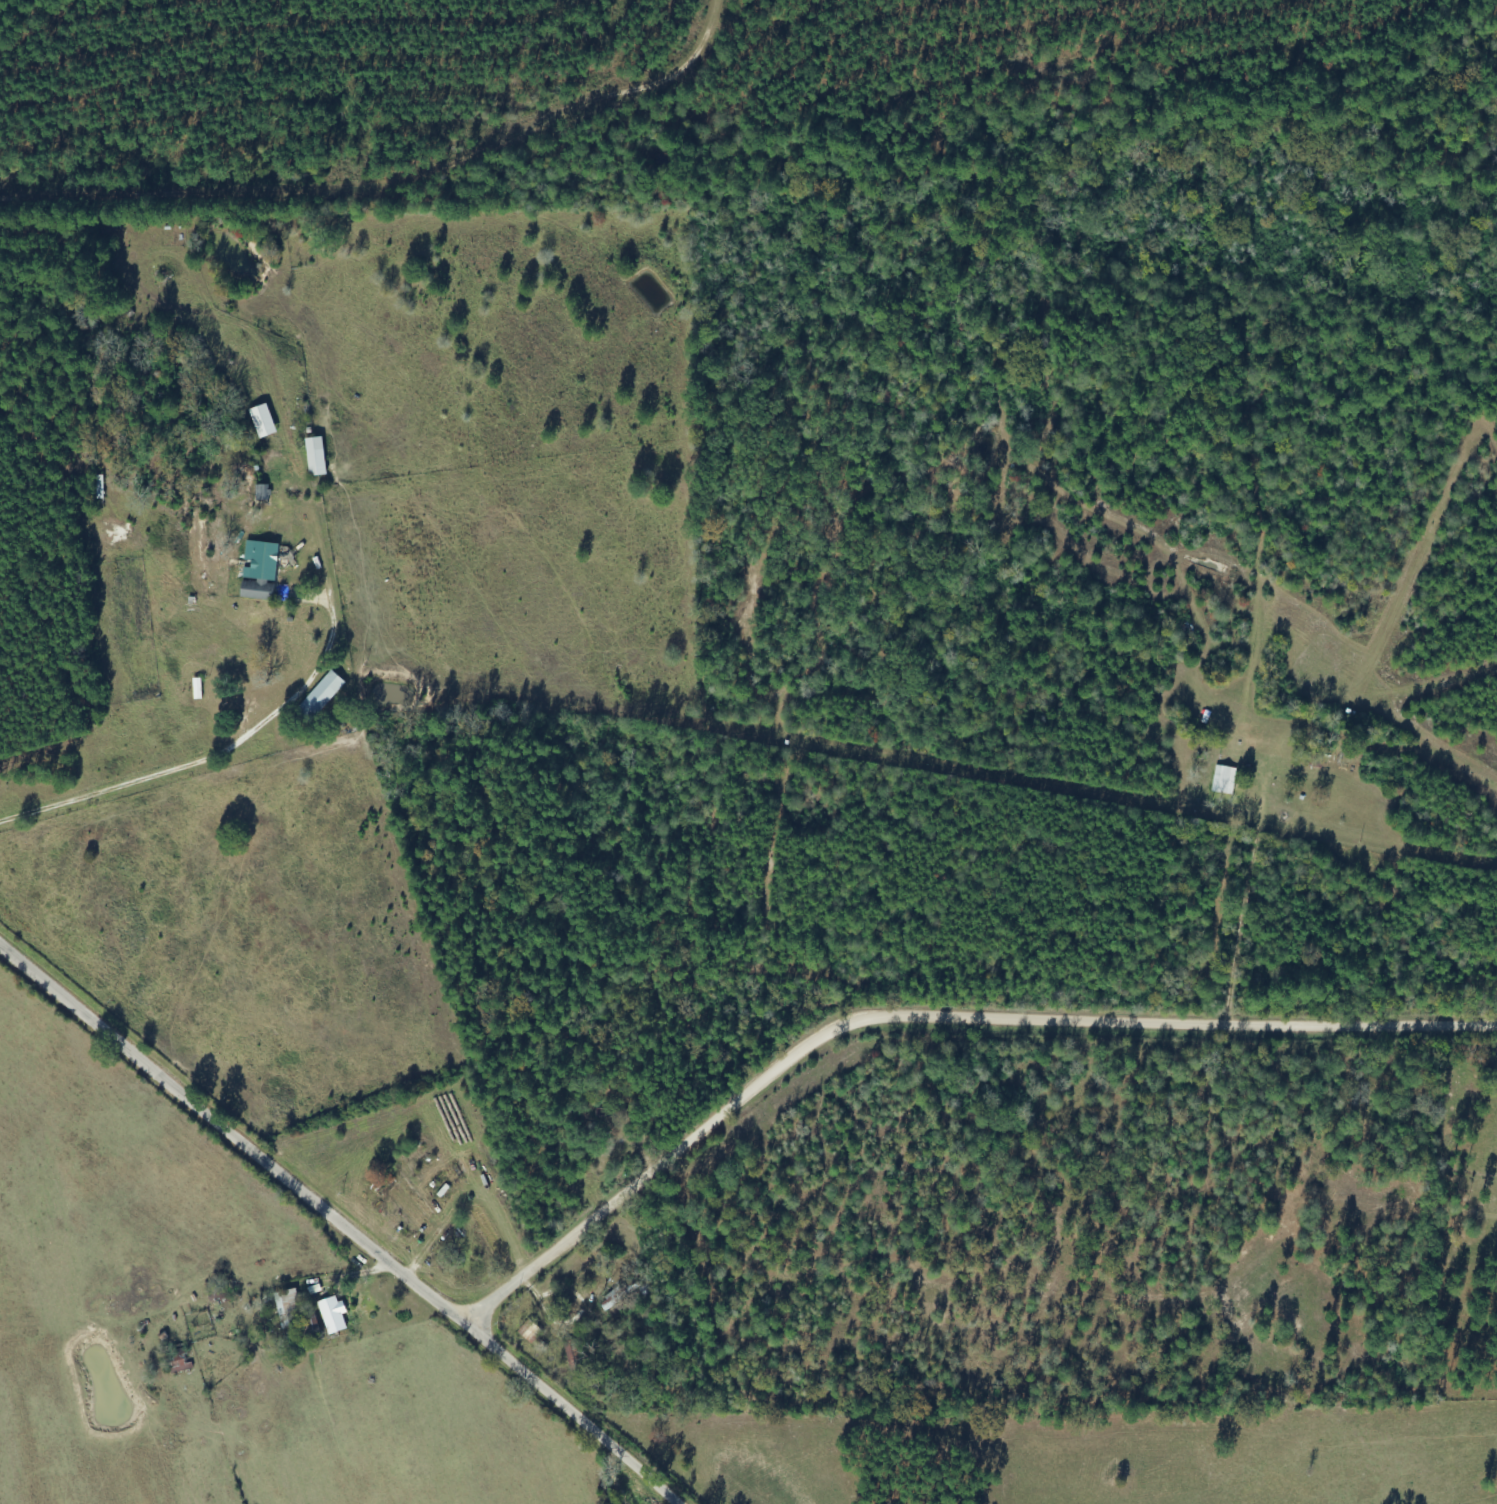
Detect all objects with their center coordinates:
road: (365, 191)
building: (264, 421)
building: (316, 457)
building: (260, 571)
building: (322, 696)
road: (184, 778)
building: (1224, 780)
road: (936, 1037)
road: (746, 1040)
road: (340, 1221)
building: (287, 1302)
building: (333, 1315)
building: (529, 1330)
building: (179, 1362)

